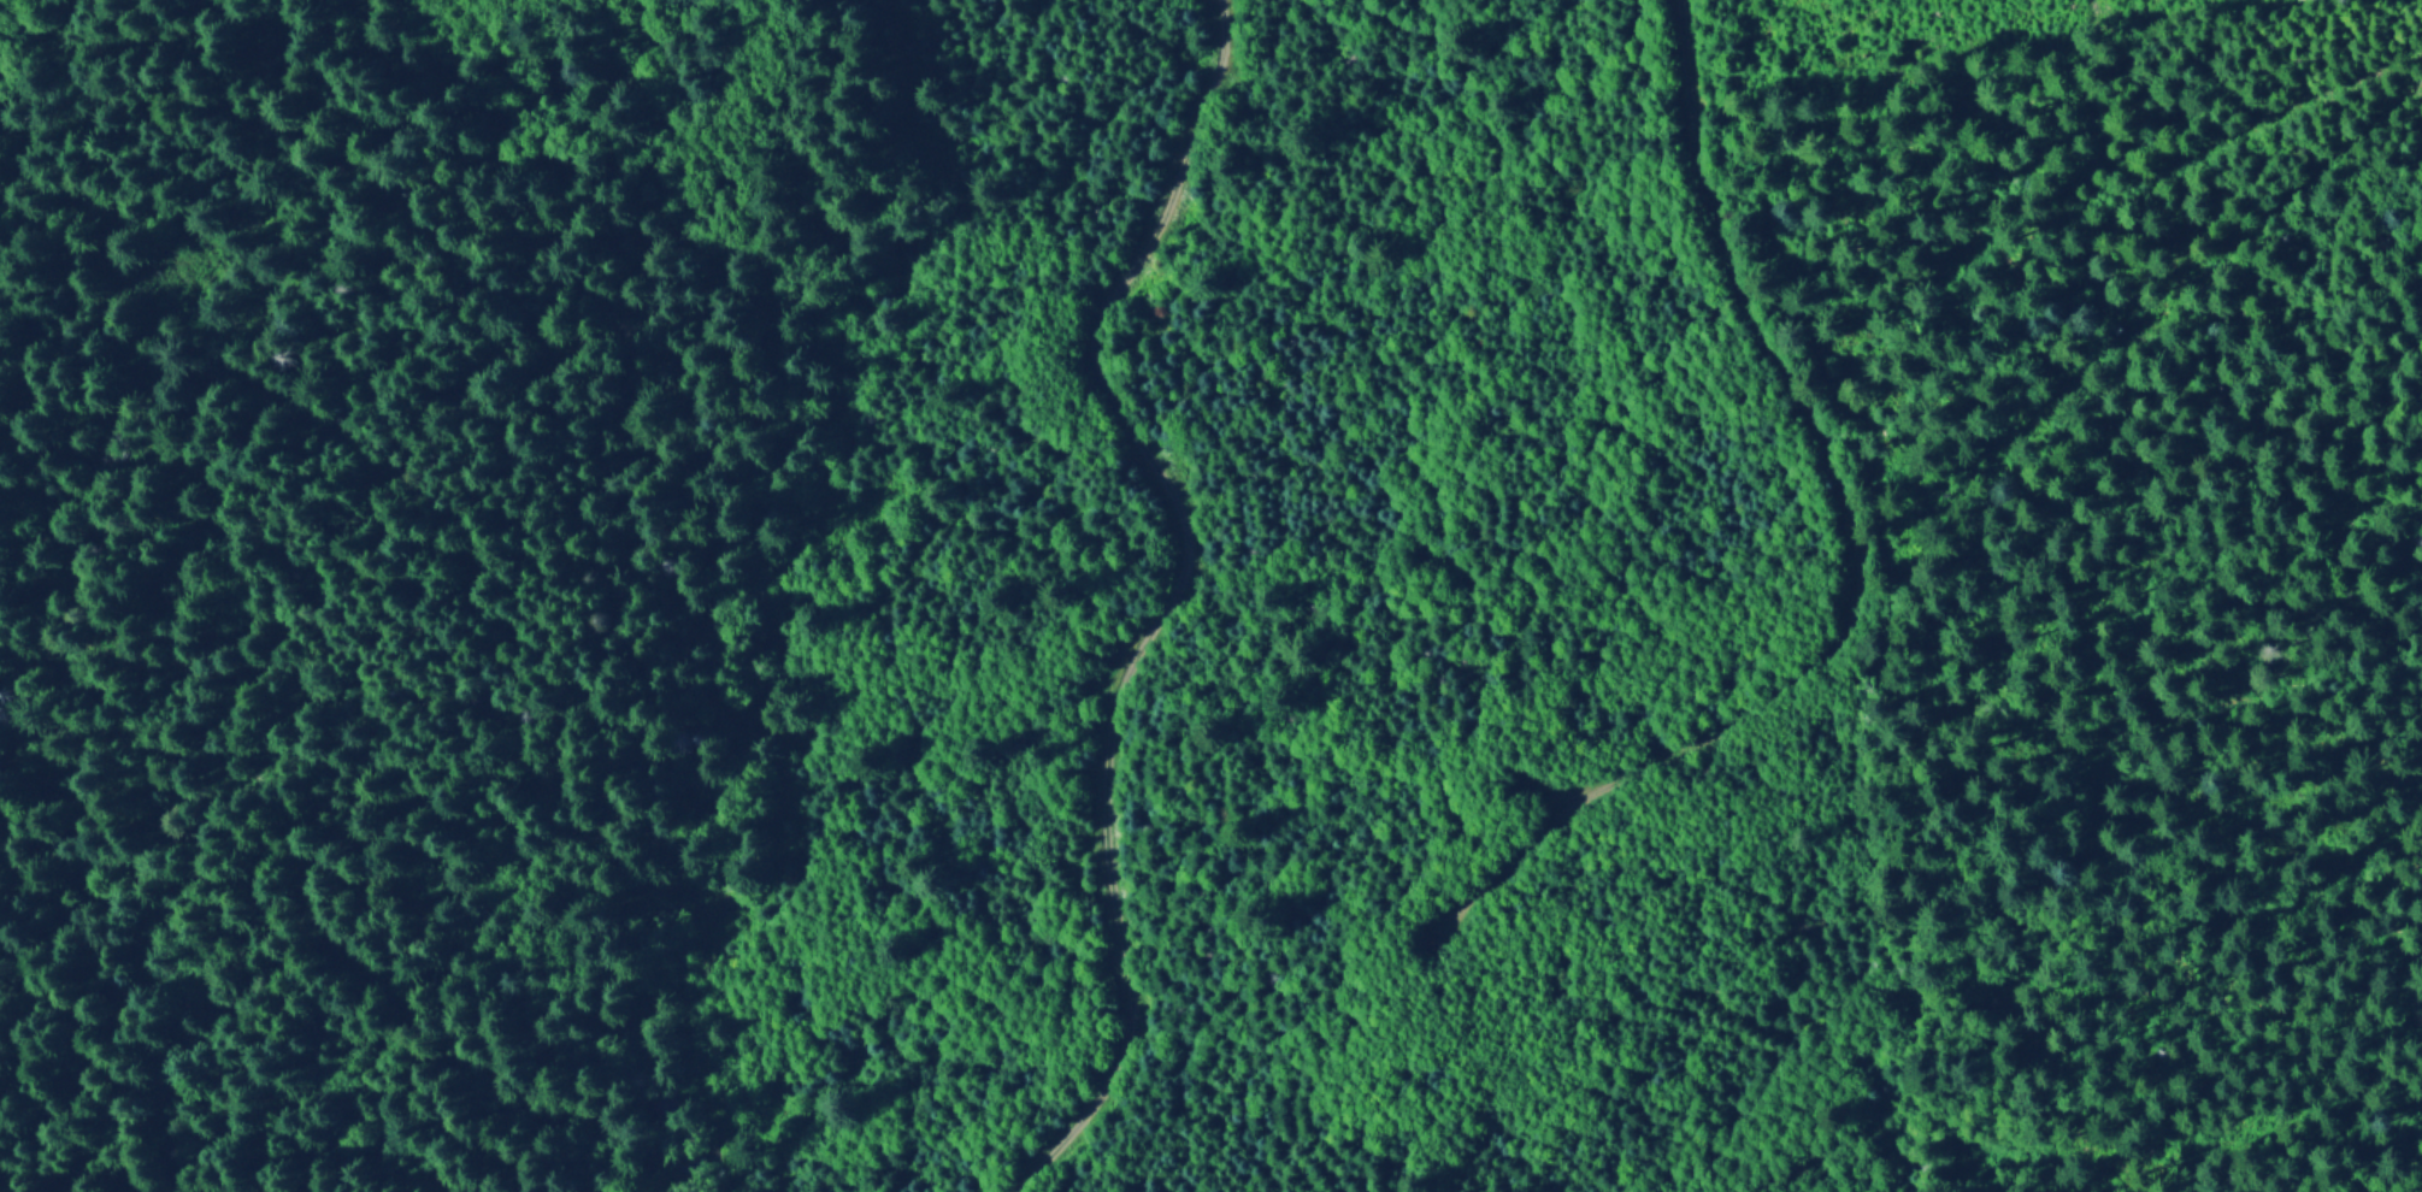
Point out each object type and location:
road: (1142, 590)

